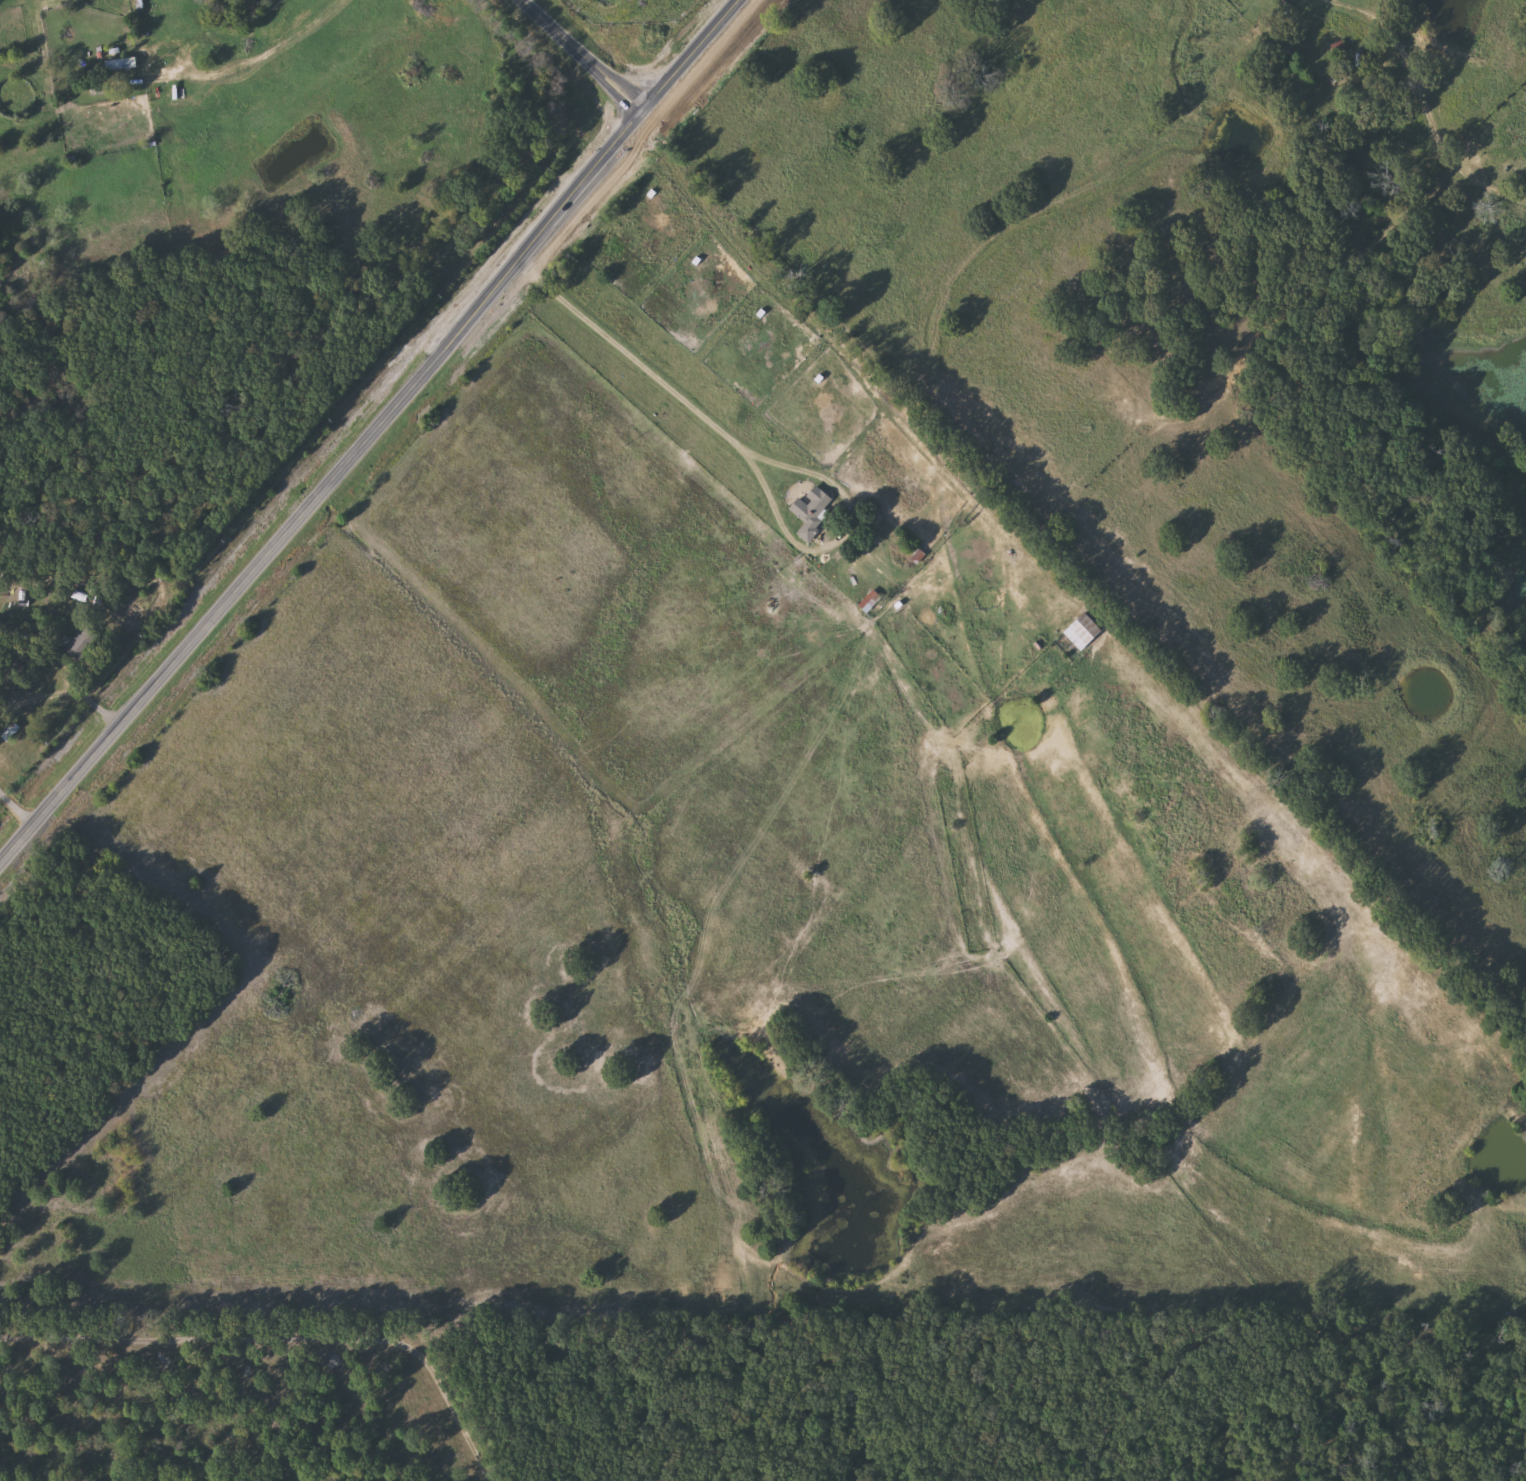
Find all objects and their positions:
road: (1398, 42)
road: (231, 55)
road: (588, 55)
building: (122, 63)
road: (314, 85)
road: (166, 142)
road: (364, 423)
road: (746, 460)
building: (809, 516)
building: (870, 600)
building: (1084, 630)
building: (84, 641)
building: (11, 729)

